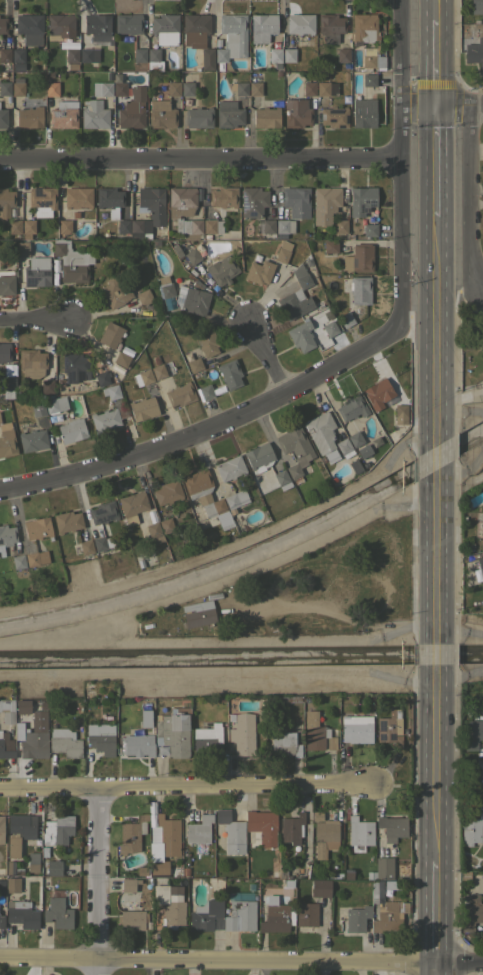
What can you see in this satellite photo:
building: (477, 7)
road: (436, 9)
building: (476, 20)
building: (128, 23)
building: (300, 23)
building: (3, 25)
building: (60, 26)
building: (262, 26)
building: (331, 26)
building: (29, 28)
building: (97, 28)
building: (363, 28)
building: (195, 29)
building: (231, 36)
building: (162, 37)
building: (217, 40)
building: (69, 43)
road: (401, 53)
building: (475, 53)
building: (18, 54)
building: (288, 54)
building: (343, 54)
building: (5, 55)
building: (72, 55)
building: (89, 55)
building: (139, 55)
building: (275, 56)
building: (207, 59)
building: (372, 59)
road: (436, 62)
building: (345, 65)
building: (72, 66)
building: (17, 68)
building: (323, 74)
building: (369, 79)
building: (4, 88)
building: (17, 88)
building: (51, 88)
building: (102, 88)
building: (119, 88)
building: (173, 88)
building: (187, 88)
building: (241, 88)
building: (255, 88)
building: (308, 88)
building: (326, 88)
road: (419, 106)
road: (453, 106)
road: (476, 106)
building: (132, 109)
building: (363, 112)
building: (228, 113)
building: (296, 113)
building: (29, 114)
building: (94, 114)
building: (161, 114)
building: (62, 115)
building: (334, 116)
building: (198, 117)
building: (266, 117)
building: (3, 118)
road: (11, 134)
road: (200, 160)
road: (436, 160)
road: (471, 195)
building: (78, 197)
building: (224, 197)
building: (42, 200)
building: (109, 200)
building: (361, 200)
building: (6, 201)
building: (253, 201)
building: (296, 201)
building: (325, 204)
building: (148, 212)
building: (184, 212)
building: (209, 213)
road: (401, 216)
building: (15, 221)
building: (284, 225)
building: (28, 226)
building: (64, 226)
building: (123, 226)
building: (212, 226)
building: (268, 226)
building: (341, 226)
building: (370, 230)
building: (206, 236)
building: (218, 236)
building: (330, 245)
building: (22, 248)
building: (283, 251)
building: (192, 256)
building: (359, 258)
building: (308, 261)
building: (71, 262)
building: (55, 265)
building: (19, 270)
building: (222, 270)
building: (37, 272)
building: (259, 272)
building: (301, 276)
building: (6, 283)
building: (165, 286)
building: (360, 290)
building: (114, 293)
building: (145, 298)
building: (192, 300)
building: (294, 304)
road: (34, 319)
building: (345, 319)
road: (436, 320)
building: (329, 328)
building: (110, 334)
building: (300, 338)
building: (207, 343)
building: (482, 343)
building: (482, 347)
building: (4, 351)
building: (126, 351)
road: (265, 355)
building: (121, 359)
building: (155, 360)
building: (32, 362)
building: (76, 365)
building: (194, 365)
building: (118, 369)
building: (158, 372)
building: (229, 373)
building: (143, 377)
building: (101, 378)
building: (9, 381)
building: (47, 386)
building: (111, 391)
building: (377, 391)
building: (204, 392)
building: (180, 394)
building: (55, 404)
building: (351, 407)
building: (37, 408)
building: (143, 408)
building: (400, 412)
building: (55, 417)
building: (107, 419)
road: (207, 425)
building: (71, 430)
building: (320, 431)
building: (355, 439)
building: (6, 440)
building: (33, 440)
building: (344, 447)
building: (295, 451)
building: (258, 457)
road: (440, 457)
building: (229, 468)
building: (280, 477)
building: (167, 492)
building: (207, 498)
building: (235, 500)
building: (132, 503)
building: (103, 511)
building: (67, 521)
building: (481, 524)
building: (166, 525)
building: (153, 527)
building: (37, 528)
building: (86, 534)
building: (6, 537)
building: (101, 542)
building: (85, 546)
road: (441, 554)
building: (35, 558)
building: (18, 561)
building: (478, 570)
building: (197, 613)
road: (441, 662)
building: (283, 699)
building: (22, 706)
building: (7, 710)
building: (145, 718)
building: (389, 728)
building: (356, 729)
building: (474, 731)
building: (173, 732)
building: (242, 733)
building: (316, 733)
building: (34, 736)
building: (100, 738)
building: (206, 739)
building: (64, 742)
building: (284, 743)
building: (135, 744)
building: (6, 745)
road: (439, 781)
road: (185, 788)
building: (22, 825)
building: (262, 826)
building: (392, 827)
building: (292, 828)
building: (1, 829)
building: (470, 829)
building: (57, 830)
building: (198, 831)
building: (231, 832)
building: (360, 833)
building: (131, 834)
building: (325, 837)
building: (163, 842)
building: (13, 845)
building: (33, 861)
building: (53, 867)
building: (12, 868)
building: (177, 869)
building: (381, 869)
building: (141, 870)
building: (185, 871)
building: (274, 873)
road: (95, 881)
building: (12, 884)
building: (395, 884)
building: (128, 885)
building: (2, 887)
building: (320, 888)
building: (170, 904)
road: (436, 910)
building: (24, 911)
building: (57, 911)
building: (387, 912)
building: (472, 913)
building: (306, 914)
building: (205, 915)
building: (240, 916)
building: (277, 917)
building: (131, 918)
building: (357, 918)
building: (1, 921)
road: (241, 959)
road: (435, 968)

